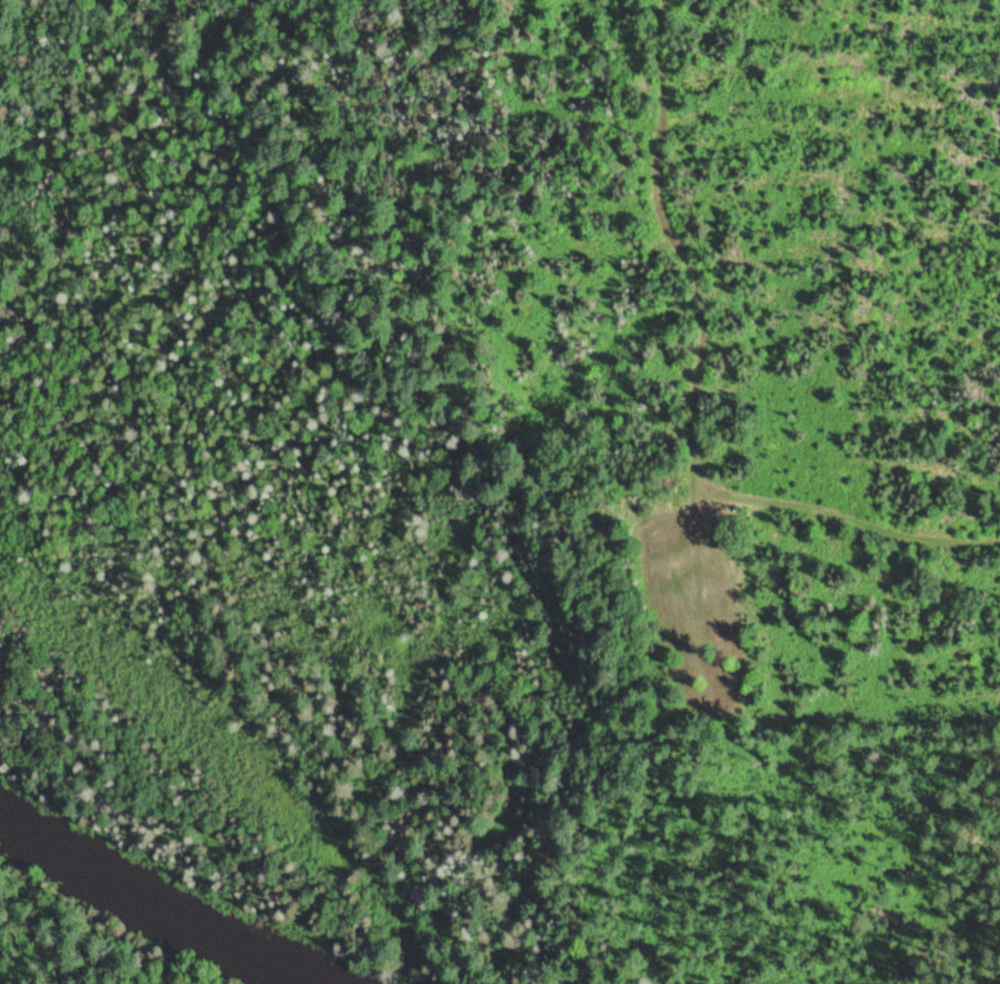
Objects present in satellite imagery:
river: (159, 901)

